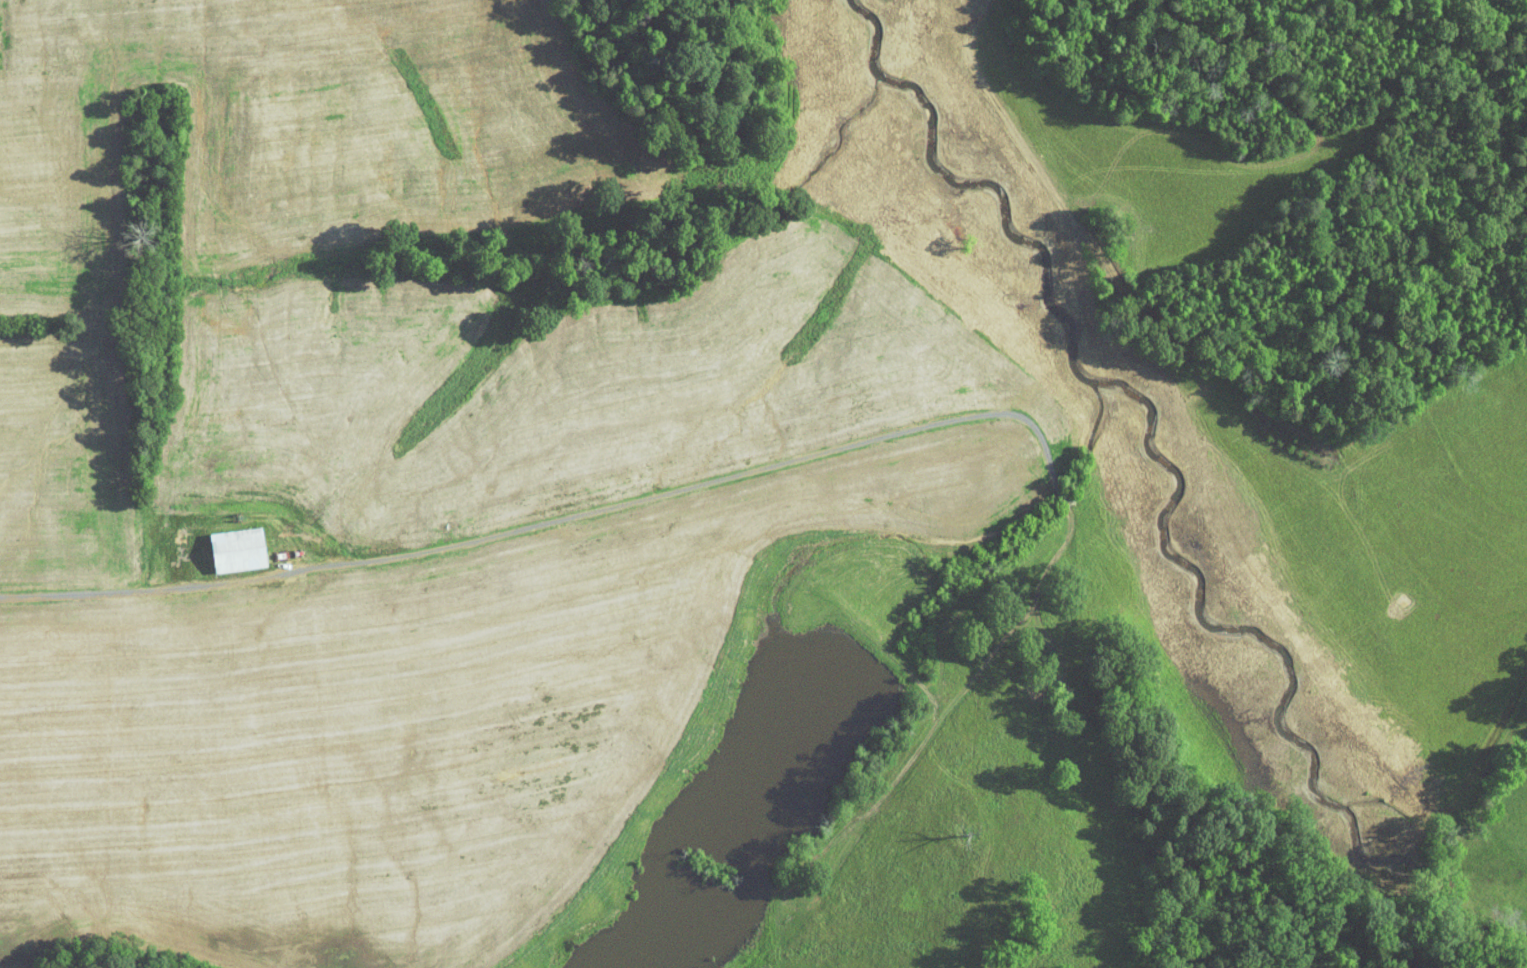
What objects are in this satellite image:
building: (229, 543)

